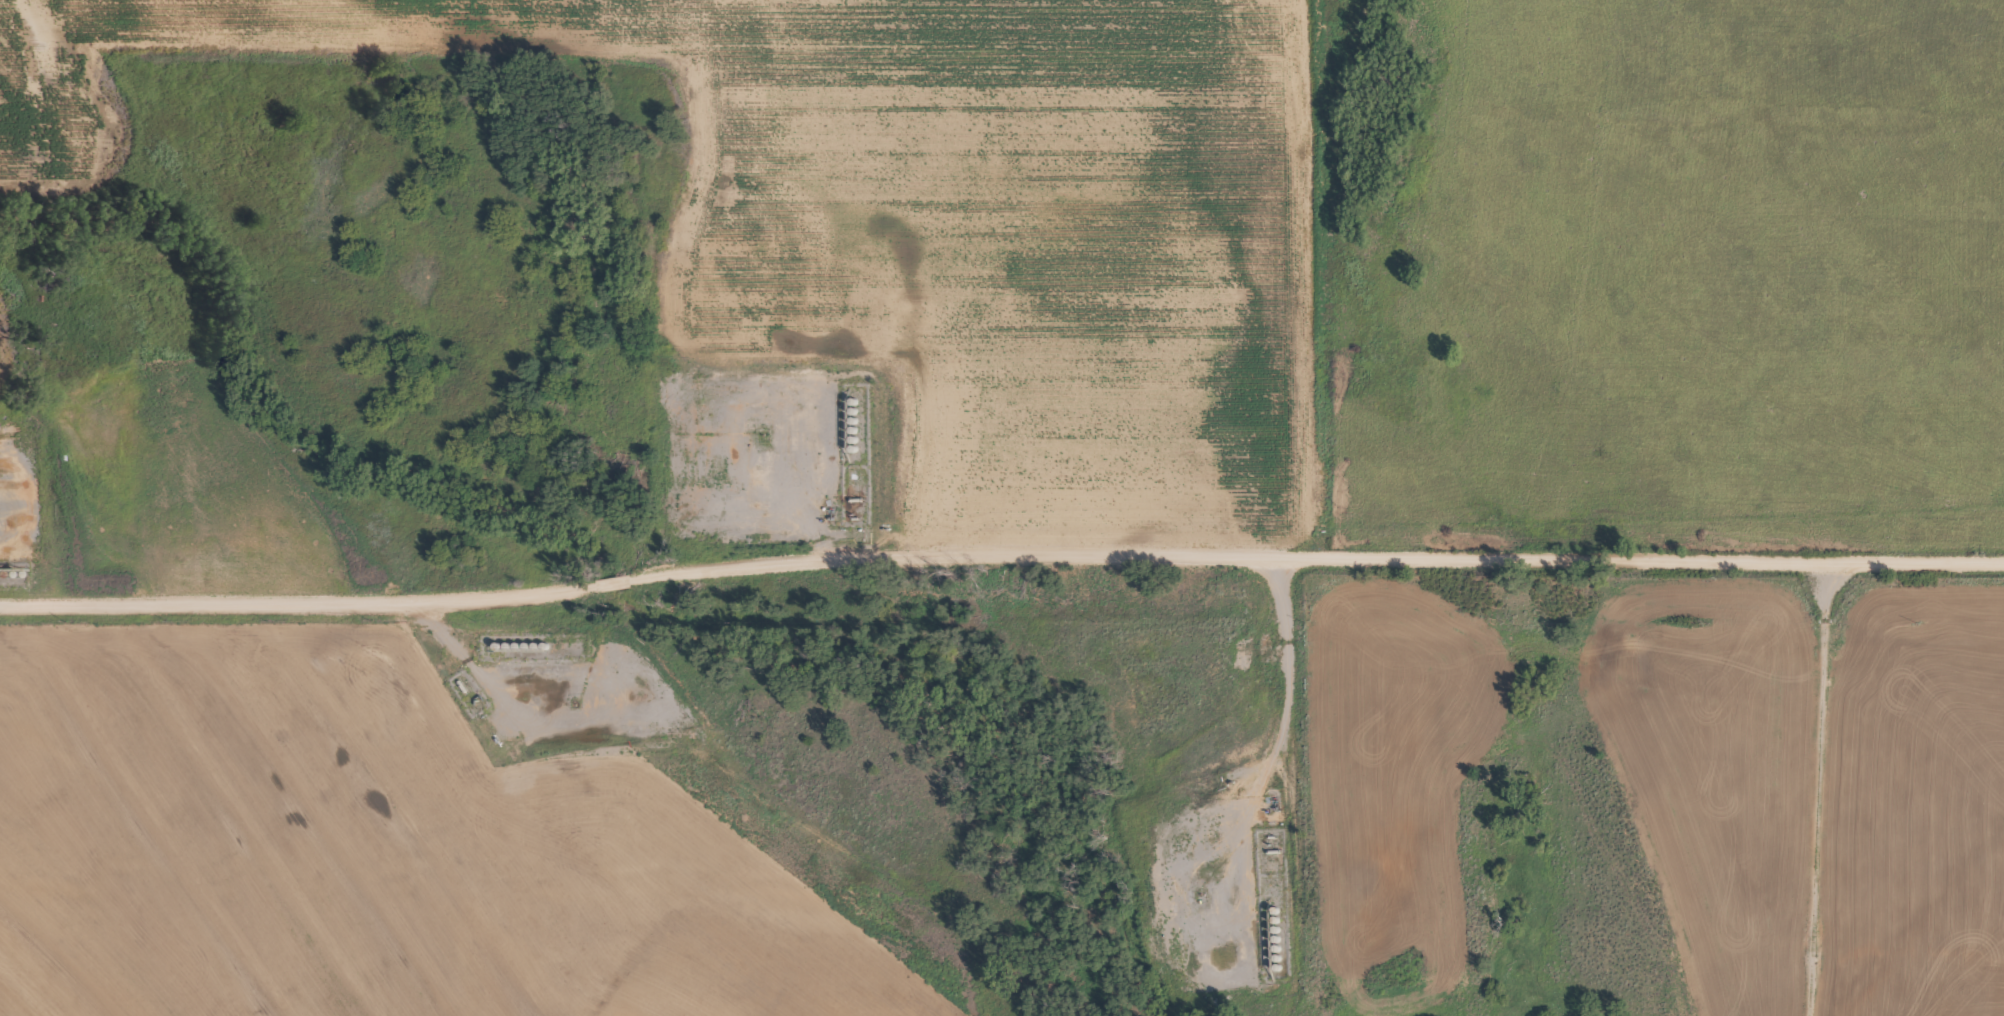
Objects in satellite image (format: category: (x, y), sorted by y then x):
building: (35, 366)
road: (1000, 561)
building: (602, 674)
building: (632, 682)

